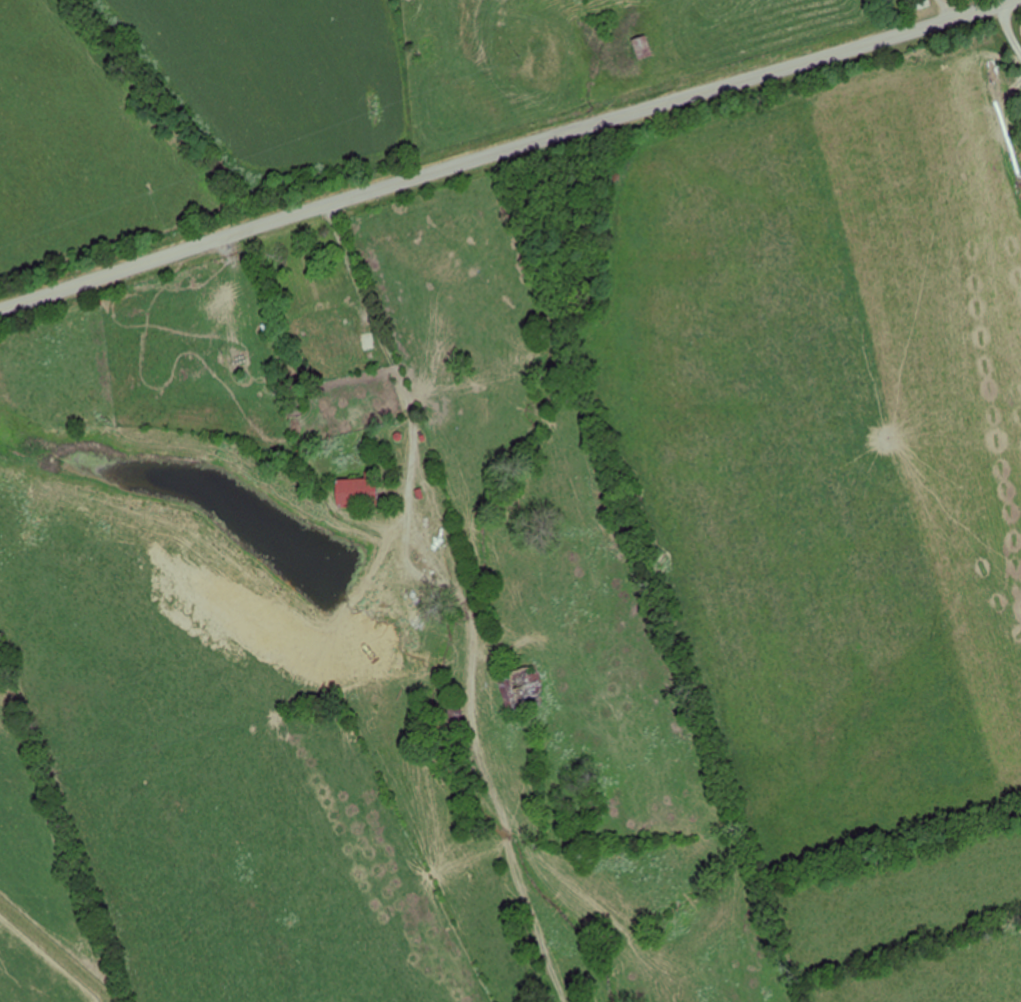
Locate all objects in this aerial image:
building: (920, 4)
road: (934, 11)
building: (642, 47)
road: (506, 150)
building: (324, 325)
building: (356, 492)
building: (518, 689)
building: (456, 714)

